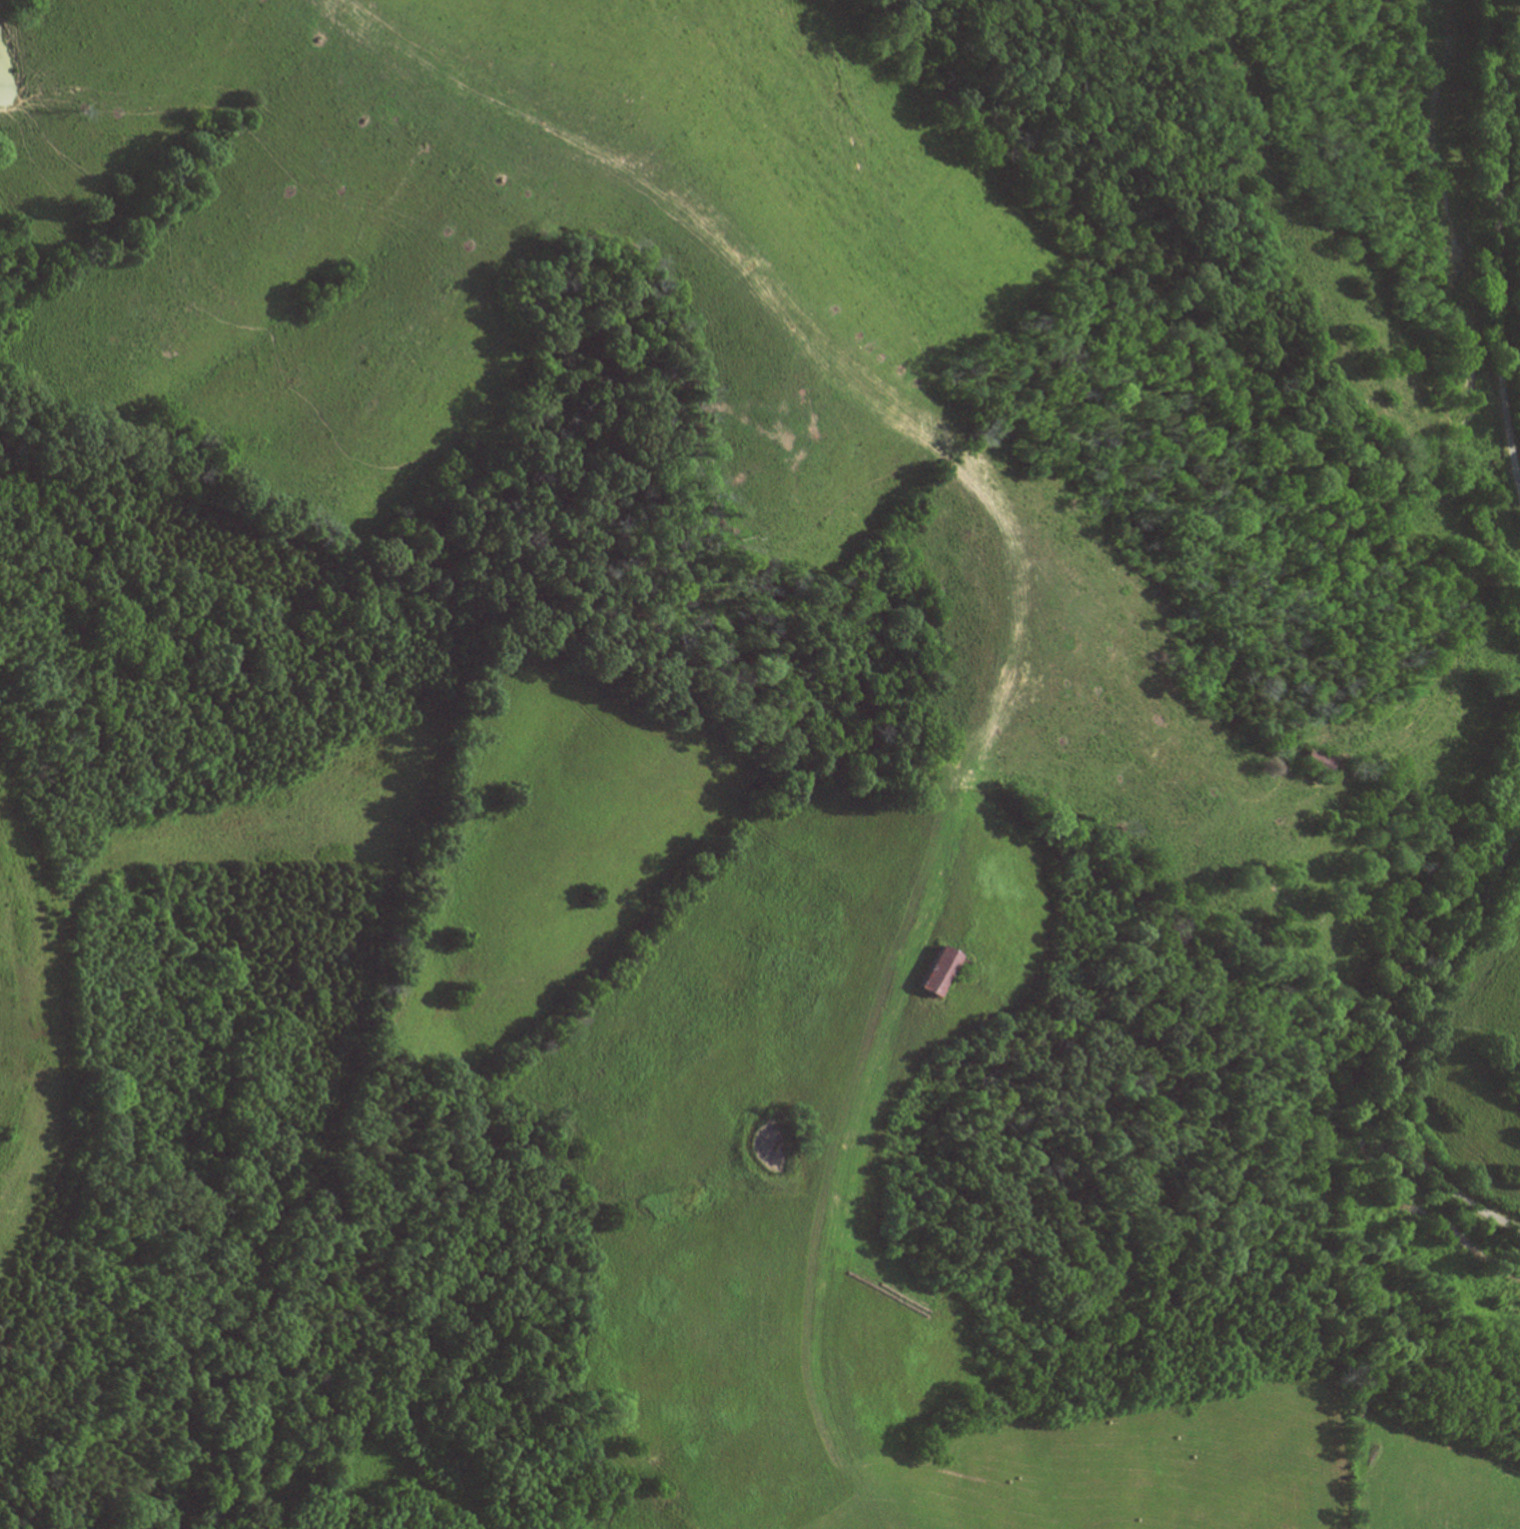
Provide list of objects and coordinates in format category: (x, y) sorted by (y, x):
road: (1500, 244)
building: (946, 972)
road: (1406, 1037)

